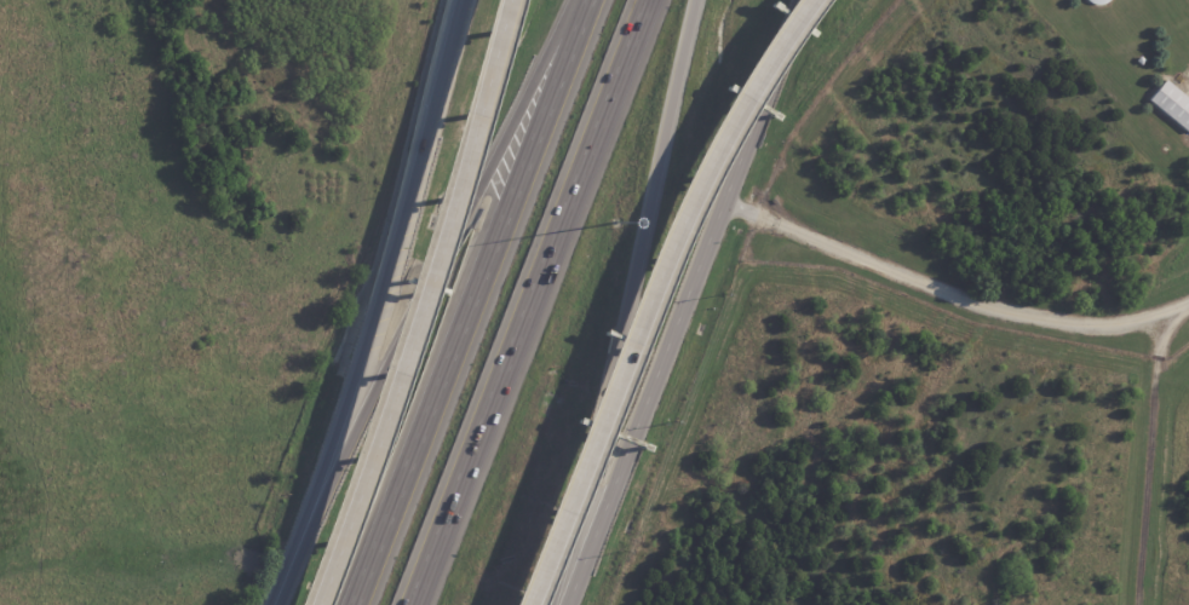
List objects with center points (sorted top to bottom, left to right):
building: (1138, 58)
building: (1173, 103)
building: (1164, 145)
road: (442, 183)
road: (659, 293)
road: (949, 296)
road: (417, 299)
road: (466, 301)
road: (525, 302)
road: (682, 302)
road: (622, 304)
road: (373, 306)
road: (358, 488)

